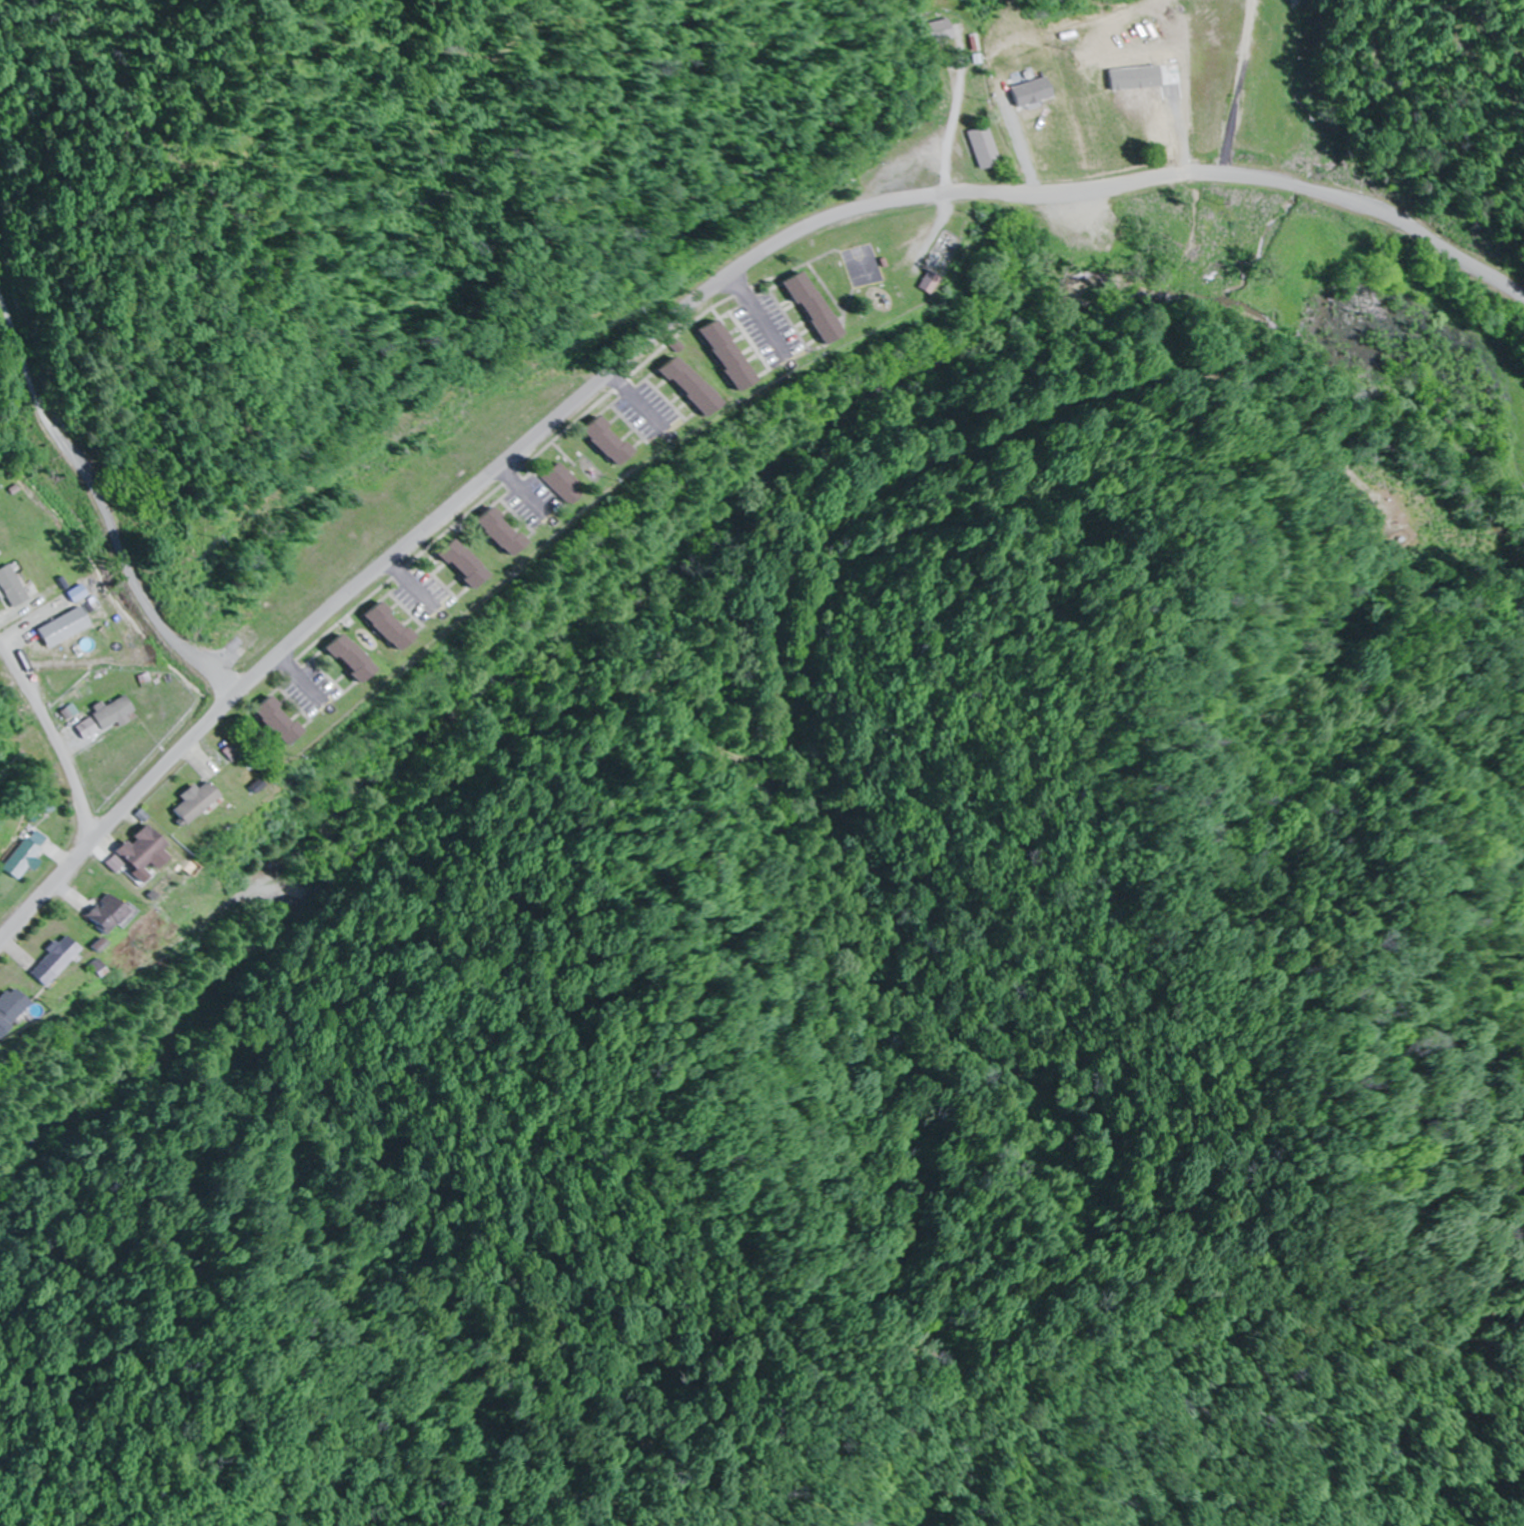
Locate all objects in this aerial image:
building: (937, 32)
road: (1234, 96)
building: (976, 148)
building: (795, 308)
road: (672, 325)
building: (711, 355)
building: (673, 385)
building: (593, 441)
building: (550, 483)
building: (485, 533)
building: (447, 564)
building: (375, 627)
road: (175, 647)
building: (337, 658)
building: (263, 721)
road: (51, 748)
building: (198, 803)
building: (144, 849)
building: (28, 860)
building: (108, 914)
building: (56, 960)
building: (11, 1008)

